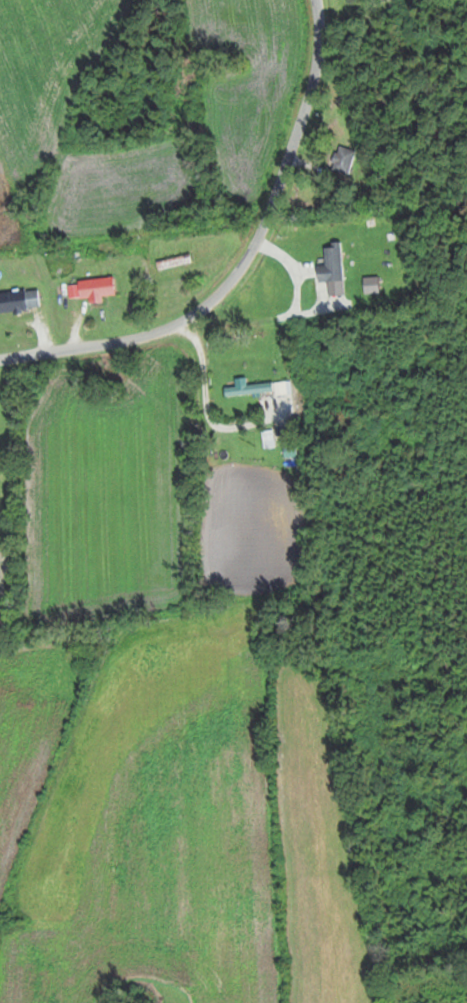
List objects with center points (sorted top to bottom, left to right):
building: (344, 159)
road: (104, 227)
road: (245, 260)
building: (173, 261)
building: (96, 287)
building: (19, 300)
building: (257, 388)
building: (279, 475)

